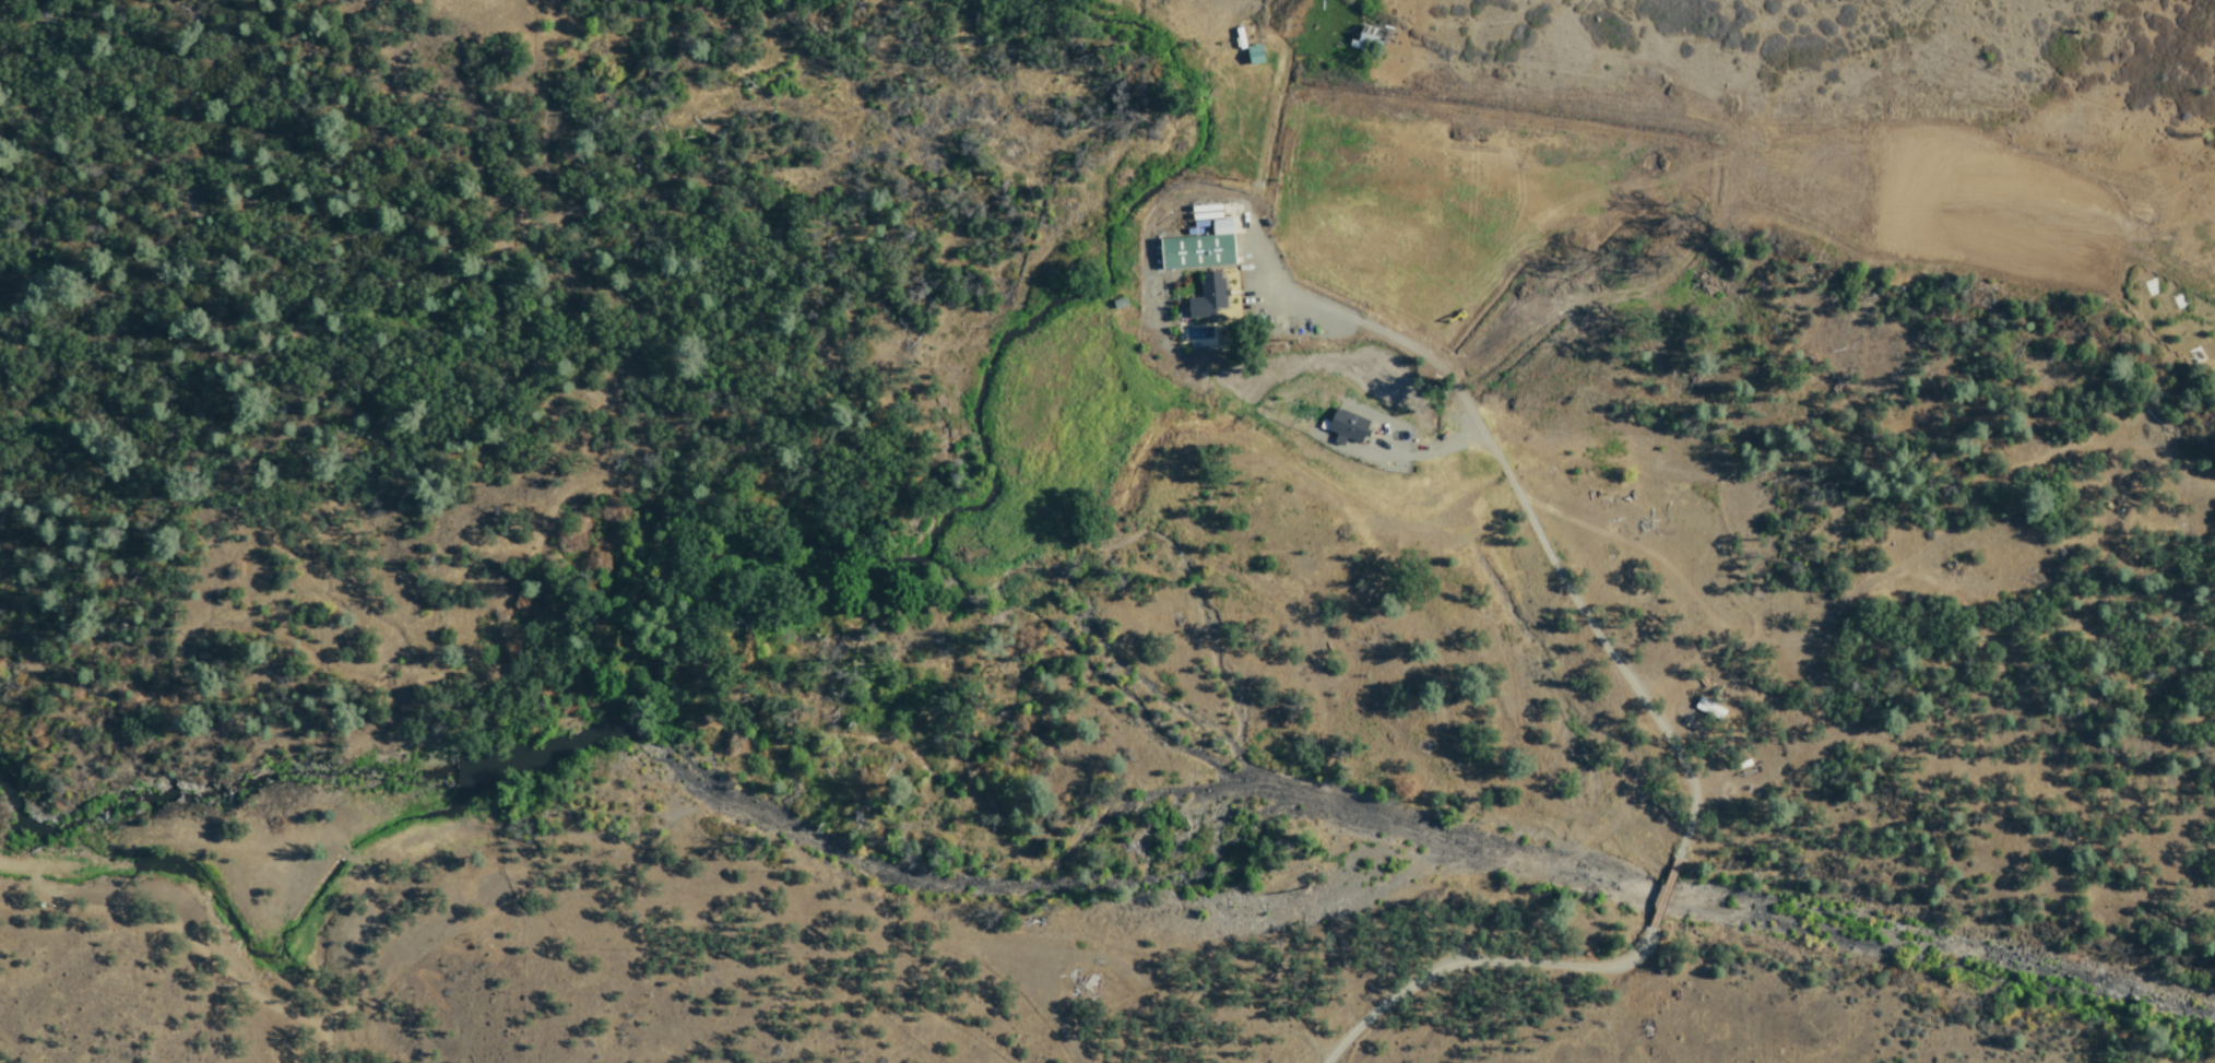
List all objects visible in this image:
building: (1244, 47)
building: (1203, 296)
building: (1341, 426)
road: (1488, 448)
road: (1927, 548)
river: (819, 841)
road: (1661, 894)
river: (1662, 895)
river: (1943, 950)
road: (1476, 962)

